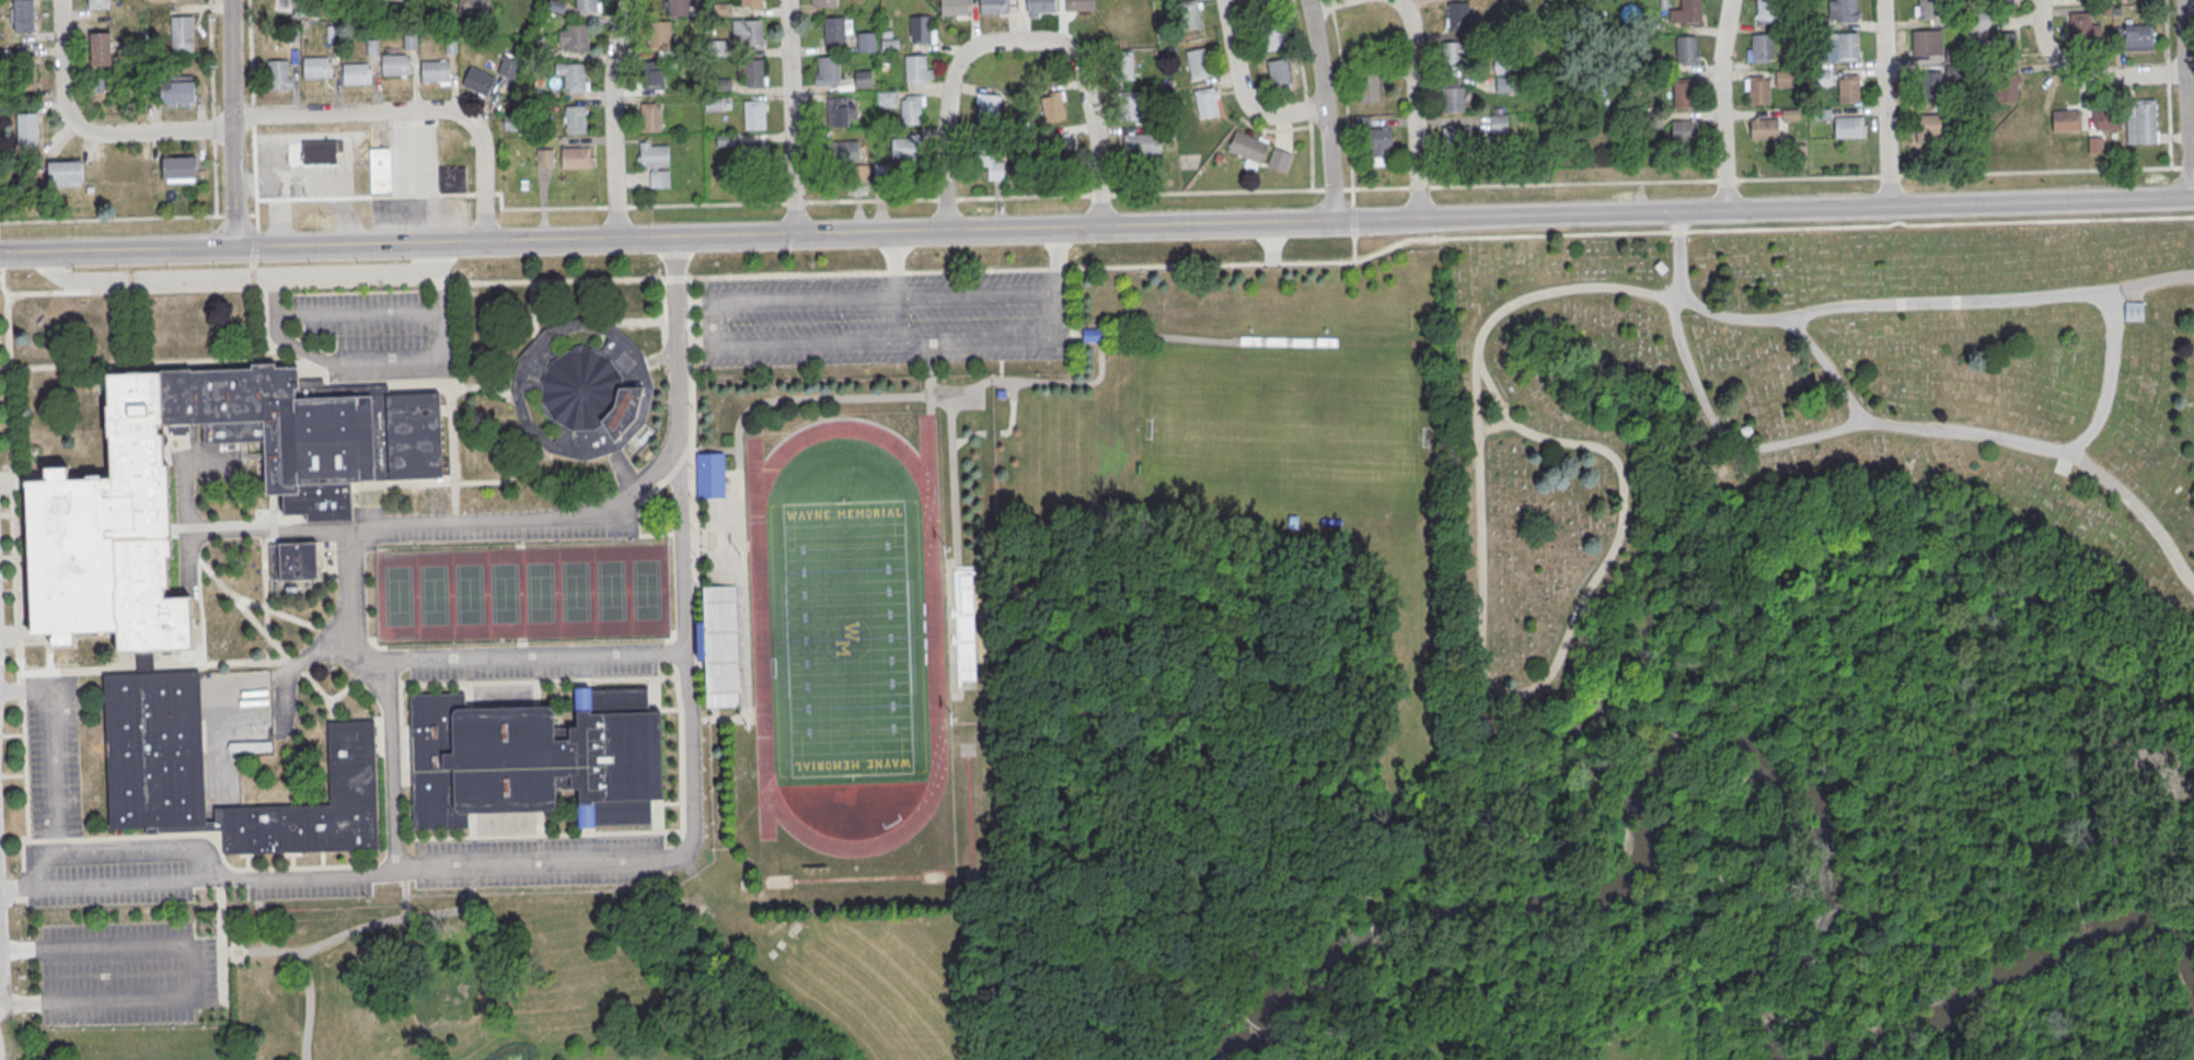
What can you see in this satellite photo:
building: (404, 0)
building: (1257, 1)
road: (1320, 2)
building: (2002, 2)
building: (825, 3)
building: (99, 4)
building: (475, 4)
building: (751, 4)
building: (1079, 5)
building: (587, 7)
building: (678, 7)
building: (993, 7)
building: (1040, 7)
building: (954, 8)
building: (1929, 10)
building: (1843, 11)
building: (1767, 12)
building: (1189, 13)
building: (1691, 13)
building: (24, 15)
building: (1457, 15)
building: (1977, 19)
building: (1119, 23)
building: (2080, 28)
building: (921, 31)
building: (835, 32)
building: (1362, 32)
building: (182, 33)
building: (748, 34)
building: (660, 36)
building: (1273, 36)
building: (2136, 36)
building: (409, 39)
building: (578, 39)
road: (1025, 40)
building: (865, 42)
building: (889, 43)
building: (1922, 46)
building: (100, 48)
building: (1843, 48)
building: (2006, 48)
building: (1763, 49)
road: (250, 51)
building: (1687, 51)
building: (1456, 54)
road: (211, 58)
building: (1198, 62)
building: (395, 63)
building: (1503, 65)
building: (317, 66)
building: (507, 66)
building: (1124, 66)
building: (916, 69)
building: (436, 70)
building: (1279, 71)
building: (356, 72)
building: (829, 72)
building: (26, 73)
building: (279, 73)
building: (654, 73)
building: (752, 74)
building: (862, 77)
building: (1783, 77)
road: (2085, 77)
building: (575, 79)
building: (477, 80)
building: (1504, 83)
building: (1370, 86)
building: (1931, 88)
building: (2005, 89)
building: (1848, 90)
building: (1683, 91)
building: (1759, 91)
road: (1240, 92)
building: (178, 93)
building: (1453, 97)
building: (886, 98)
road: (2185, 100)
building: (1206, 102)
building: (713, 103)
road: (1886, 103)
building: (988, 105)
building: (1053, 105)
building: (1133, 105)
road: (1722, 105)
road: (1413, 107)
road: (412, 110)
building: (911, 110)
road: (1325, 110)
road: (253, 113)
building: (838, 113)
building: (1789, 114)
building: (650, 116)
building: (755, 116)
road: (790, 117)
road: (614, 118)
building: (576, 120)
building: (2108, 120)
building: (2141, 120)
building: (2067, 121)
road: (230, 124)
building: (1499, 124)
building: (1929, 126)
building: (1763, 127)
building: (1848, 128)
road: (212, 129)
building: (1684, 129)
building: (28, 130)
road: (88, 130)
building: (1456, 133)
building: (1143, 142)
building: (2095, 143)
building: (1061, 144)
building: (1247, 144)
building: (1379, 144)
building: (909, 147)
building: (840, 151)
building: (575, 154)
building: (319, 155)
building: (545, 156)
building: (1279, 159)
building: (656, 161)
building: (753, 163)
building: (993, 165)
road: (2186, 165)
building: (181, 168)
building: (380, 168)
building: (65, 172)
road: (213, 177)
building: (451, 178)
road: (254, 186)
road: (1210, 190)
road: (1783, 209)
road: (128, 220)
road: (686, 237)
road: (1677, 254)
road: (436, 259)
road: (1058, 263)
road: (893, 265)
road: (231, 277)
road: (973, 294)
road: (1933, 302)
building: (2131, 311)
road: (1061, 314)
parking lot: (885, 319)
building: (1094, 334)
road: (771, 340)
road: (374, 364)
road: (1828, 365)
road: (2106, 378)
building: (596, 393)
park: (1799, 409)
road: (1492, 424)
road: (1907, 426)
building: (711, 474)
road: (274, 532)
road: (362, 533)
building: (293, 559)
park: (521, 595)
building: (109, 613)
building: (966, 627)
park: (846, 637)
track: (846, 637)
road: (1481, 644)
road: (529, 655)
road: (51, 744)
building: (533, 755)
river: (1800, 791)
park: (1808, 814)
road: (120, 844)
road: (212, 851)
road: (650, 858)
road: (36, 862)
road: (19, 948)
road: (194, 970)
parking lot: (124, 974)
road: (20, 999)
road: (1645, 1023)
road: (1416, 1042)
river: (2191, 1056)

